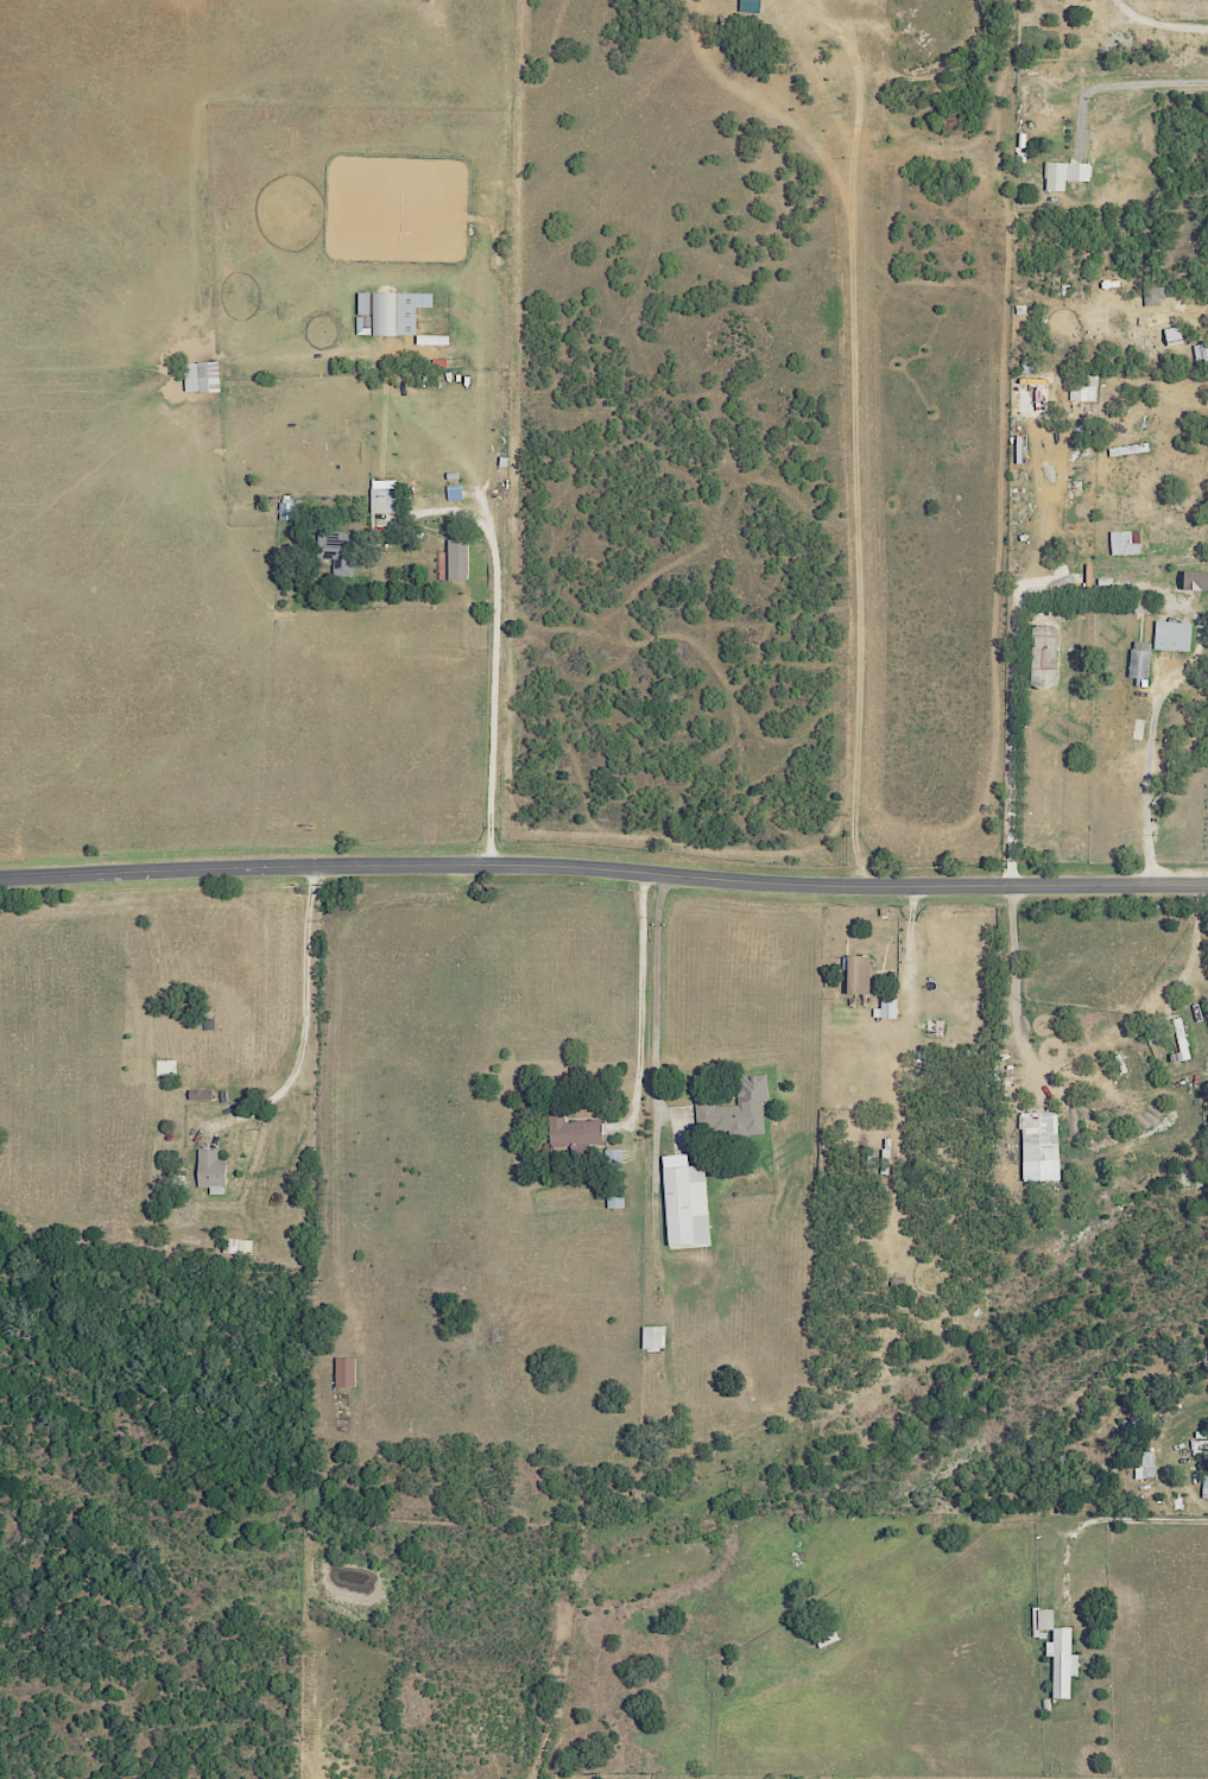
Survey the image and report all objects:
road: (1156, 30)
road: (1128, 90)
building: (1064, 175)
building: (1152, 296)
building: (200, 376)
road: (1162, 429)
road: (856, 431)
building: (382, 496)
building: (1124, 543)
building: (339, 550)
building: (454, 559)
building: (1194, 582)
building: (1141, 600)
building: (1171, 635)
building: (1042, 657)
building: (1138, 663)
road: (493, 675)
road: (1010, 740)
road: (1146, 780)
road: (603, 873)
building: (856, 973)
road: (1014, 973)
road: (638, 998)
road: (652, 1000)
road: (299, 1023)
building: (573, 1132)
building: (1038, 1135)
building: (209, 1171)
building: (614, 1197)
building: (683, 1201)
building: (652, 1337)
building: (344, 1370)
building: (1200, 1446)
building: (1144, 1467)
building: (1204, 1486)
road: (1112, 1520)
building: (1041, 1620)
building: (1061, 1661)

